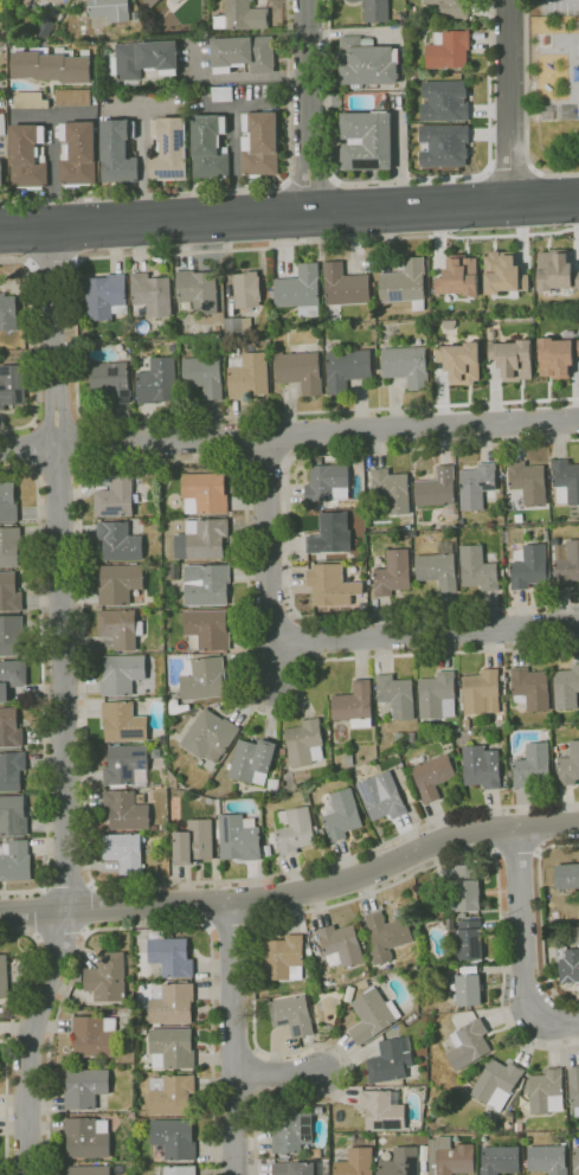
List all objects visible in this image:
building: (27, 0)
building: (150, 2)
building: (450, 7)
building: (110, 8)
building: (374, 9)
building: (244, 14)
building: (448, 50)
building: (242, 53)
building: (143, 57)
building: (366, 62)
building: (51, 66)
road: (255, 75)
road: (487, 85)
road: (327, 90)
building: (72, 96)
building: (30, 99)
building: (443, 99)
road: (508, 101)
road: (220, 105)
road: (305, 105)
road: (122, 108)
road: (33, 115)
building: (1, 124)
building: (365, 140)
building: (259, 142)
road: (236, 143)
building: (443, 145)
building: (208, 146)
building: (169, 148)
road: (142, 150)
building: (116, 152)
road: (52, 153)
building: (26, 155)
road: (510, 171)
road: (555, 173)
building: (0, 176)
road: (412, 179)
road: (308, 184)
road: (233, 187)
road: (289, 213)
road: (13, 262)
road: (53, 264)
building: (555, 270)
building: (503, 272)
building: (457, 276)
building: (405, 283)
building: (345, 285)
building: (249, 289)
building: (199, 290)
building: (301, 290)
building: (153, 293)
building: (107, 295)
building: (142, 307)
building: (8, 312)
building: (238, 325)
road: (77, 339)
road: (34, 355)
building: (557, 357)
building: (512, 359)
building: (459, 361)
building: (408, 365)
building: (348, 368)
building: (302, 371)
building: (205, 373)
building: (250, 375)
building: (112, 379)
building: (159, 380)
building: (12, 384)
road: (57, 420)
road: (289, 432)
road: (82, 443)
road: (34, 447)
road: (264, 460)
road: (59, 470)
building: (167, 479)
building: (565, 481)
building: (527, 482)
building: (329, 483)
building: (478, 486)
building: (393, 489)
building: (438, 490)
building: (206, 493)
building: (117, 497)
building: (8, 502)
building: (557, 520)
building: (330, 533)
road: (288, 534)
building: (202, 539)
building: (121, 540)
road: (81, 542)
building: (9, 546)
road: (266, 563)
building: (566, 563)
building: (440, 566)
building: (532, 566)
building: (480, 569)
building: (394, 573)
building: (121, 583)
building: (207, 584)
building: (333, 584)
building: (9, 591)
building: (121, 628)
building: (210, 628)
road: (433, 634)
building: (11, 635)
building: (123, 673)
building: (12, 678)
building: (204, 678)
road: (44, 685)
building: (567, 687)
building: (532, 688)
building: (482, 692)
building: (398, 695)
building: (439, 695)
road: (66, 704)
building: (355, 705)
building: (179, 707)
building: (124, 721)
building: (468, 723)
building: (11, 727)
building: (211, 736)
building: (406, 736)
building: (305, 743)
building: (284, 751)
building: (156, 752)
building: (350, 758)
building: (253, 760)
building: (128, 765)
building: (534, 765)
building: (483, 766)
building: (570, 766)
building: (12, 770)
building: (510, 772)
building: (432, 773)
building: (173, 778)
building: (275, 785)
building: (384, 796)
building: (219, 805)
building: (127, 809)
building: (13, 815)
building: (342, 815)
building: (155, 827)
building: (296, 829)
building: (239, 836)
building: (195, 840)
building: (269, 849)
building: (126, 852)
road: (516, 853)
building: (15, 860)
building: (567, 875)
building: (468, 887)
road: (70, 888)
building: (553, 891)
road: (295, 895)
road: (90, 907)
road: (298, 912)
building: (463, 914)
road: (541, 917)
building: (451, 923)
road: (522, 924)
road: (148, 926)
road: (233, 926)
building: (366, 927)
building: (575, 935)
building: (388, 936)
building: (470, 939)
building: (342, 944)
building: (319, 946)
building: (411, 948)
building: (310, 951)
building: (172, 955)
building: (285, 957)
building: (321, 961)
building: (570, 963)
building: (470, 969)
building: (5, 976)
building: (108, 977)
building: (468, 989)
building: (350, 993)
building: (172, 1003)
building: (4, 1009)
building: (374, 1014)
building: (296, 1015)
road: (553, 1021)
road: (7, 1034)
building: (96, 1035)
road: (236, 1038)
building: (470, 1044)
building: (173, 1048)
building: (392, 1060)
road: (279, 1077)
building: (497, 1083)
building: (86, 1087)
building: (574, 1087)
building: (547, 1091)
building: (173, 1094)
building: (433, 1103)
building: (384, 1109)
building: (320, 1110)
building: (144, 1122)
building: (519, 1126)
building: (294, 1132)
building: (89, 1137)
building: (172, 1141)
building: (451, 1156)
building: (287, 1158)
building: (548, 1158)
building: (501, 1160)
building: (356, 1162)
building: (401, 1162)
building: (574, 1162)
building: (298, 1168)
building: (90, 1169)
building: (181, 1170)

